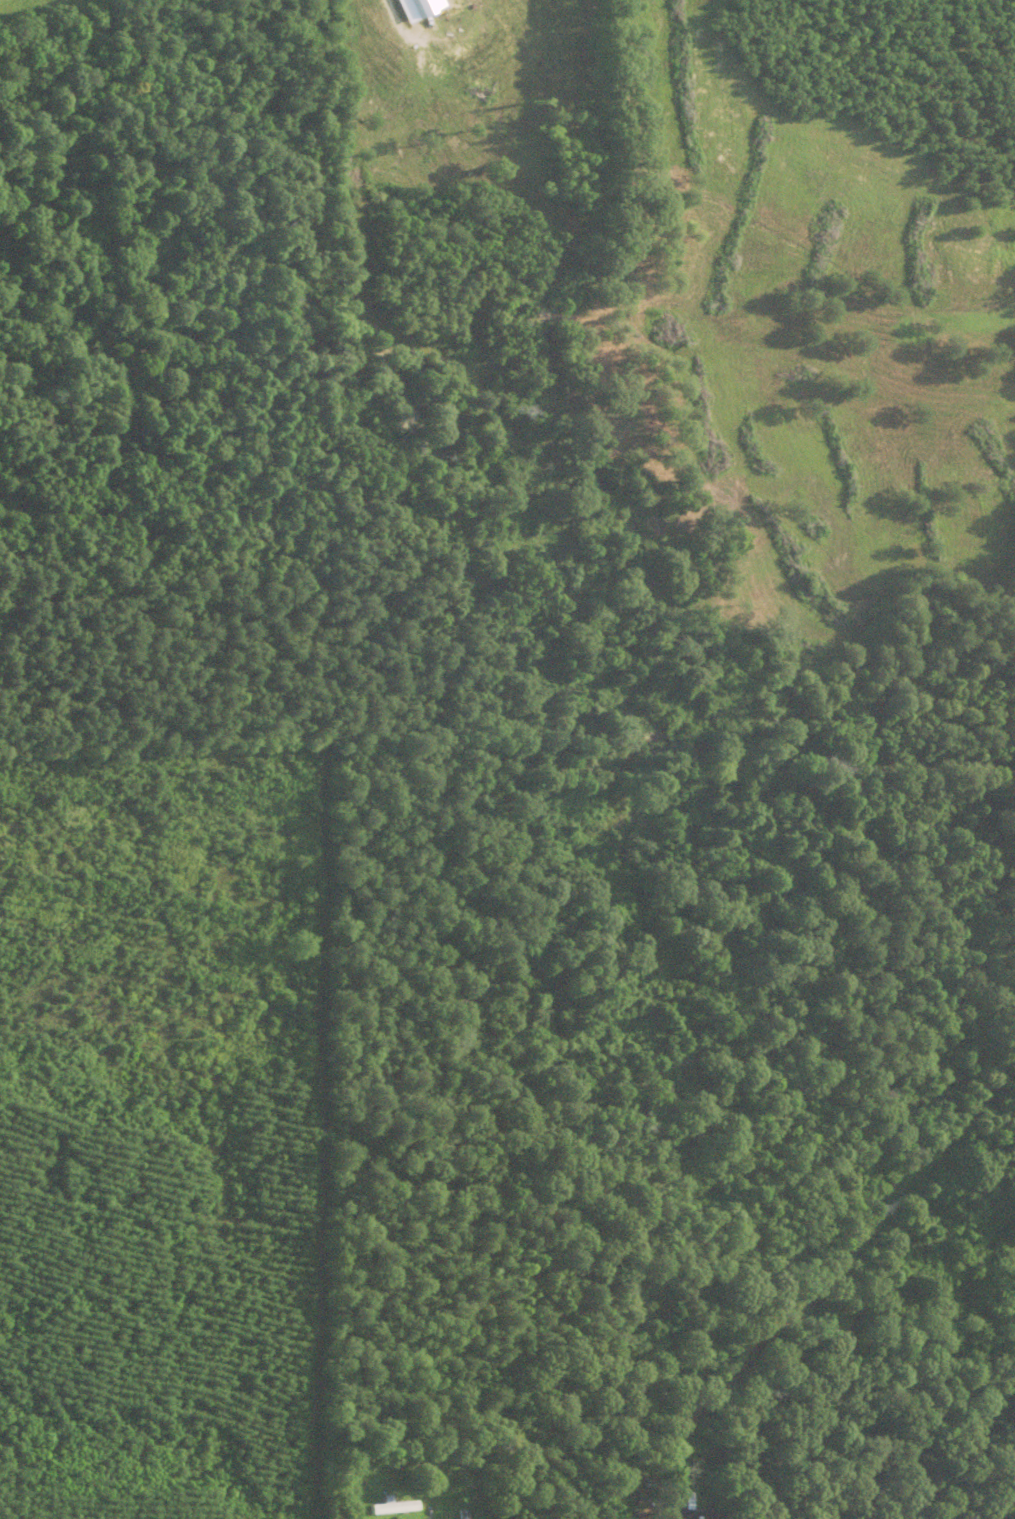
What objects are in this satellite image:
road: (391, 8)
building: (420, 8)
river: (10, 131)
river: (741, 741)
building: (393, 1508)
building: (683, 1513)

